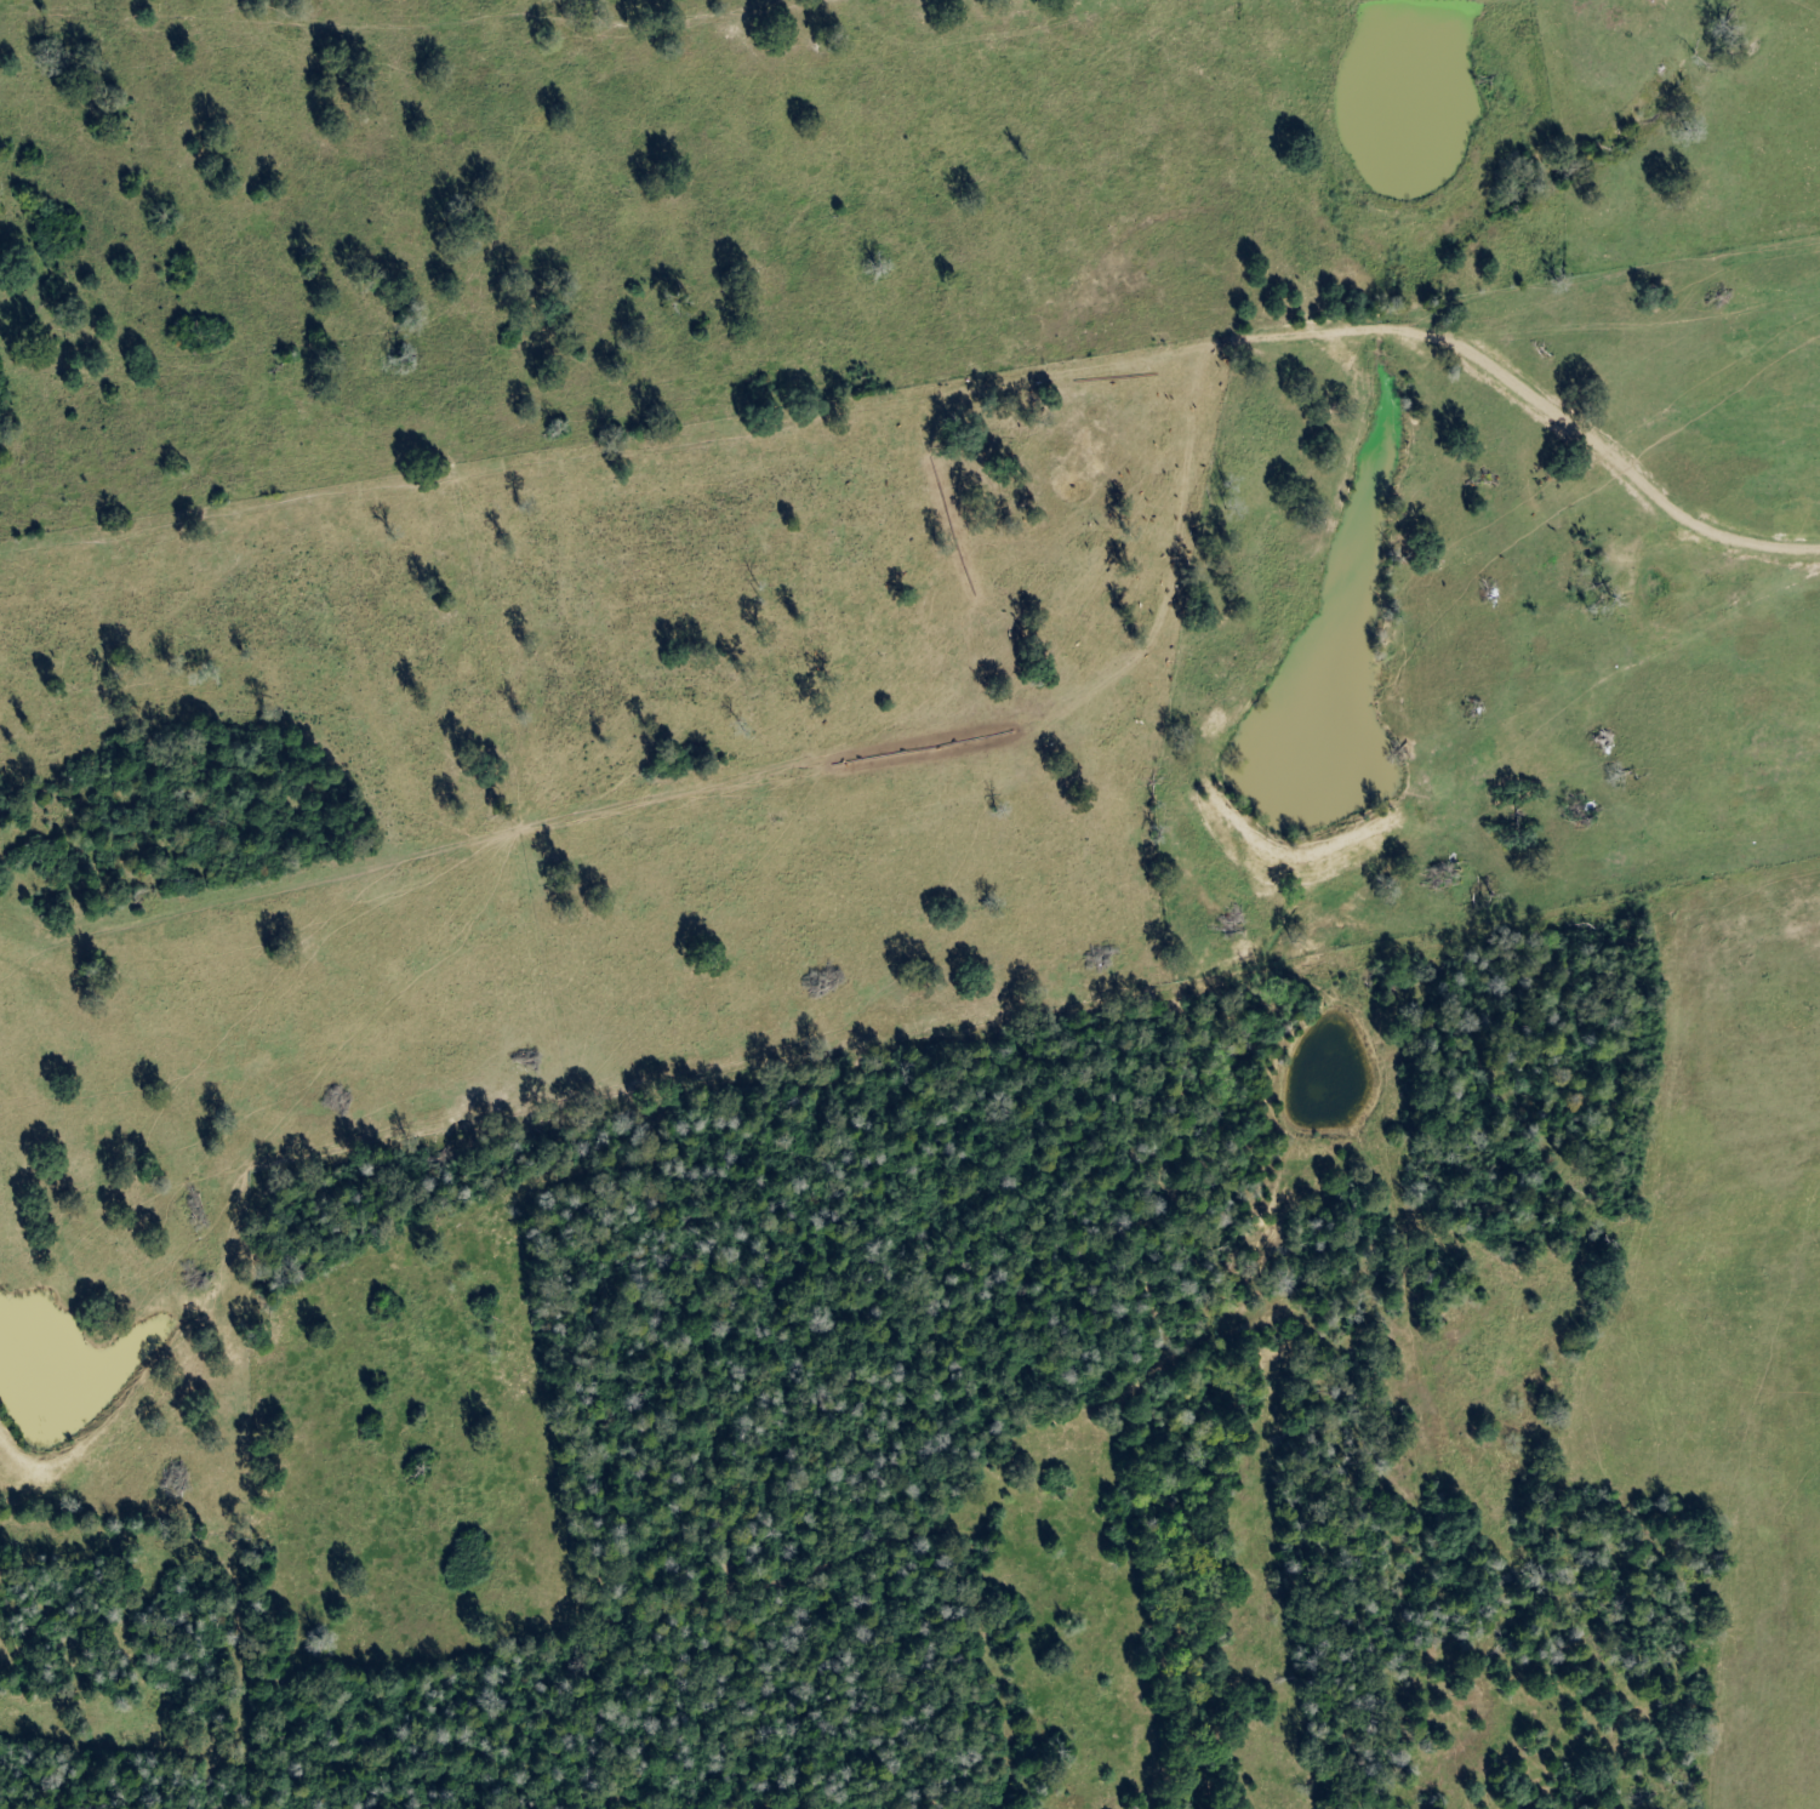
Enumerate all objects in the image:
road: (1730, 222)

